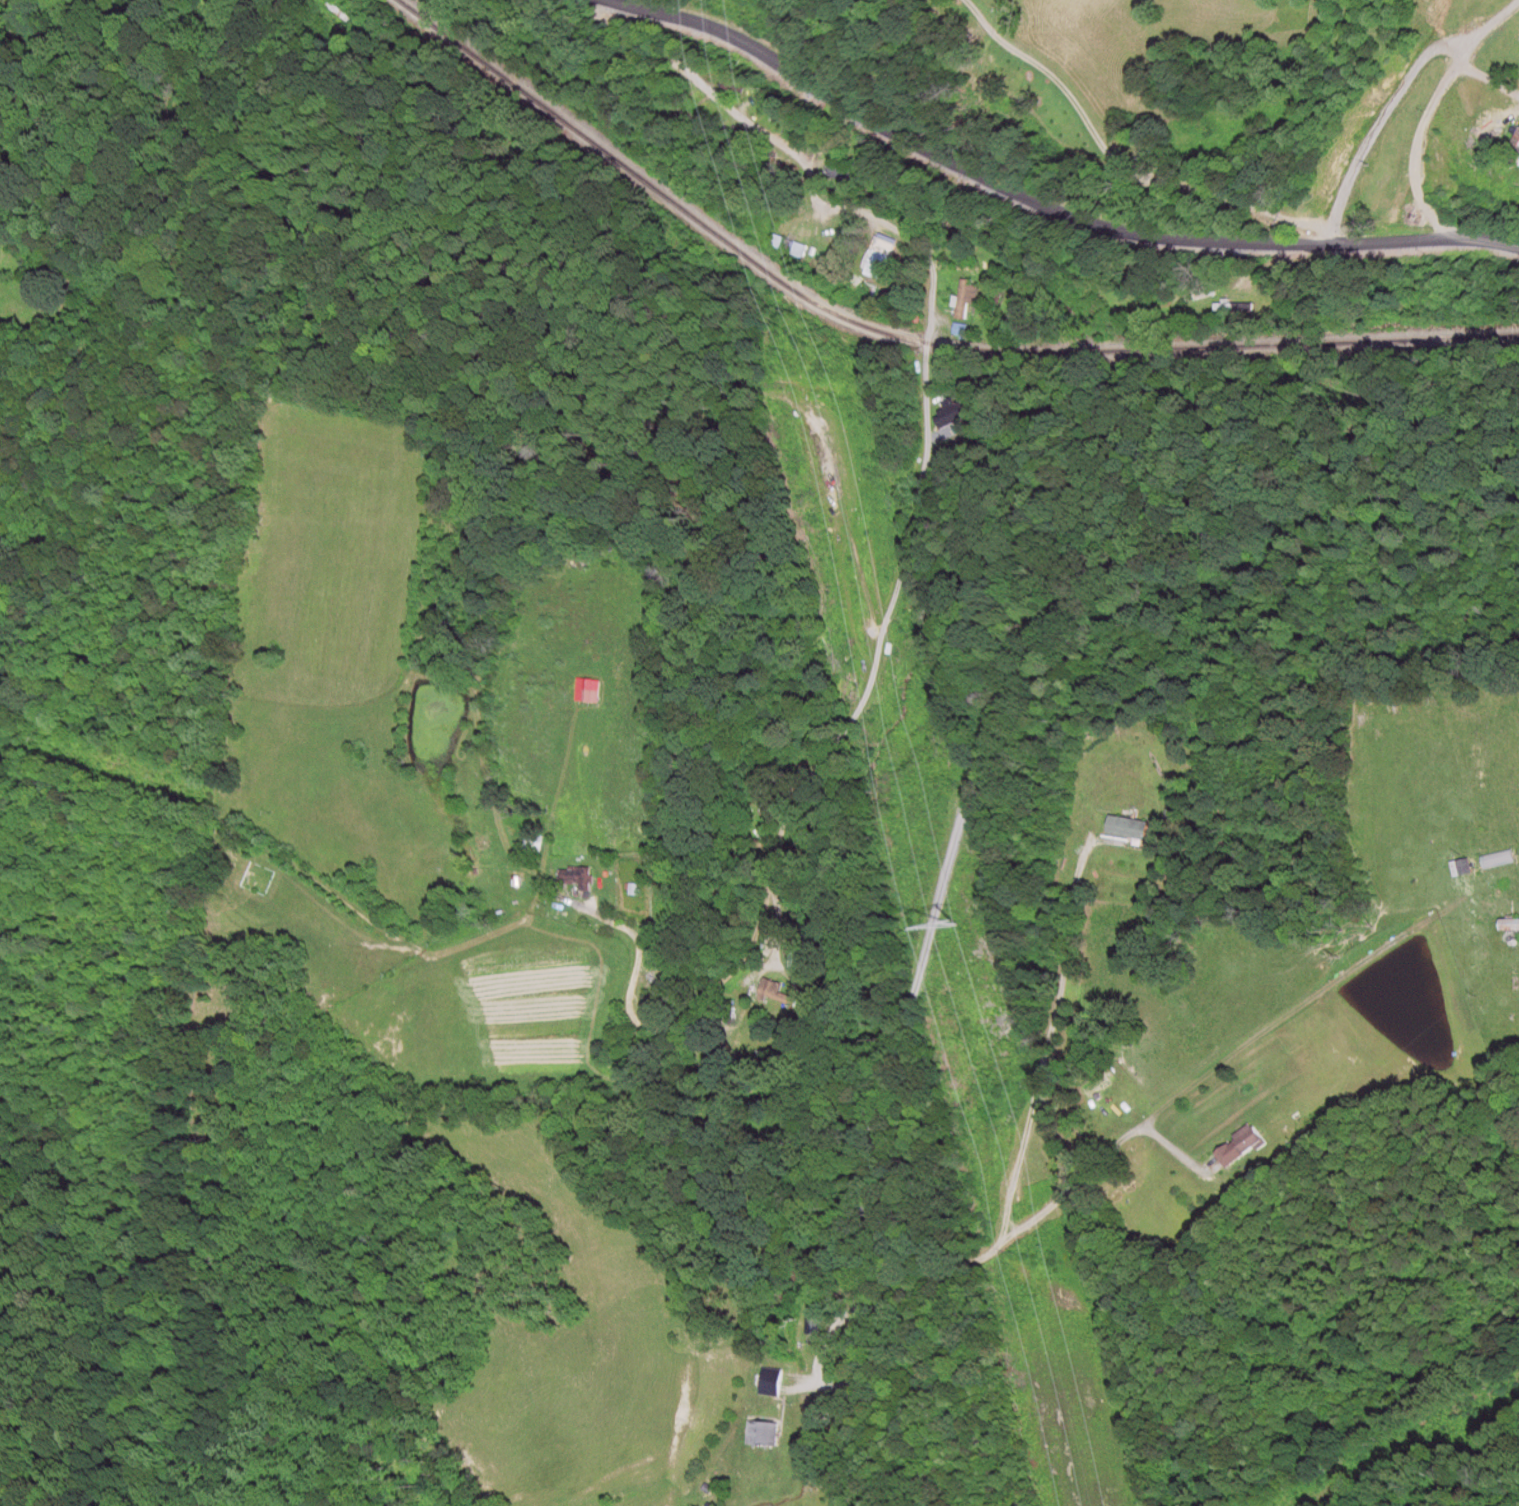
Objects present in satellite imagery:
road: (1385, 100)
road: (1428, 105)
road: (1112, 163)
road: (1046, 205)
building: (878, 257)
building: (965, 299)
building: (995, 302)
building: (1233, 307)
railway: (907, 339)
building: (954, 415)
road: (903, 572)
building: (590, 753)
road: (971, 792)
building: (1126, 829)
building: (534, 842)
building: (1498, 860)
building: (1460, 868)
building: (570, 877)
building: (1508, 926)
power tower: (947, 936)
building: (773, 991)
road: (1146, 1121)
building: (1240, 1147)
building: (770, 1383)
building: (763, 1434)

